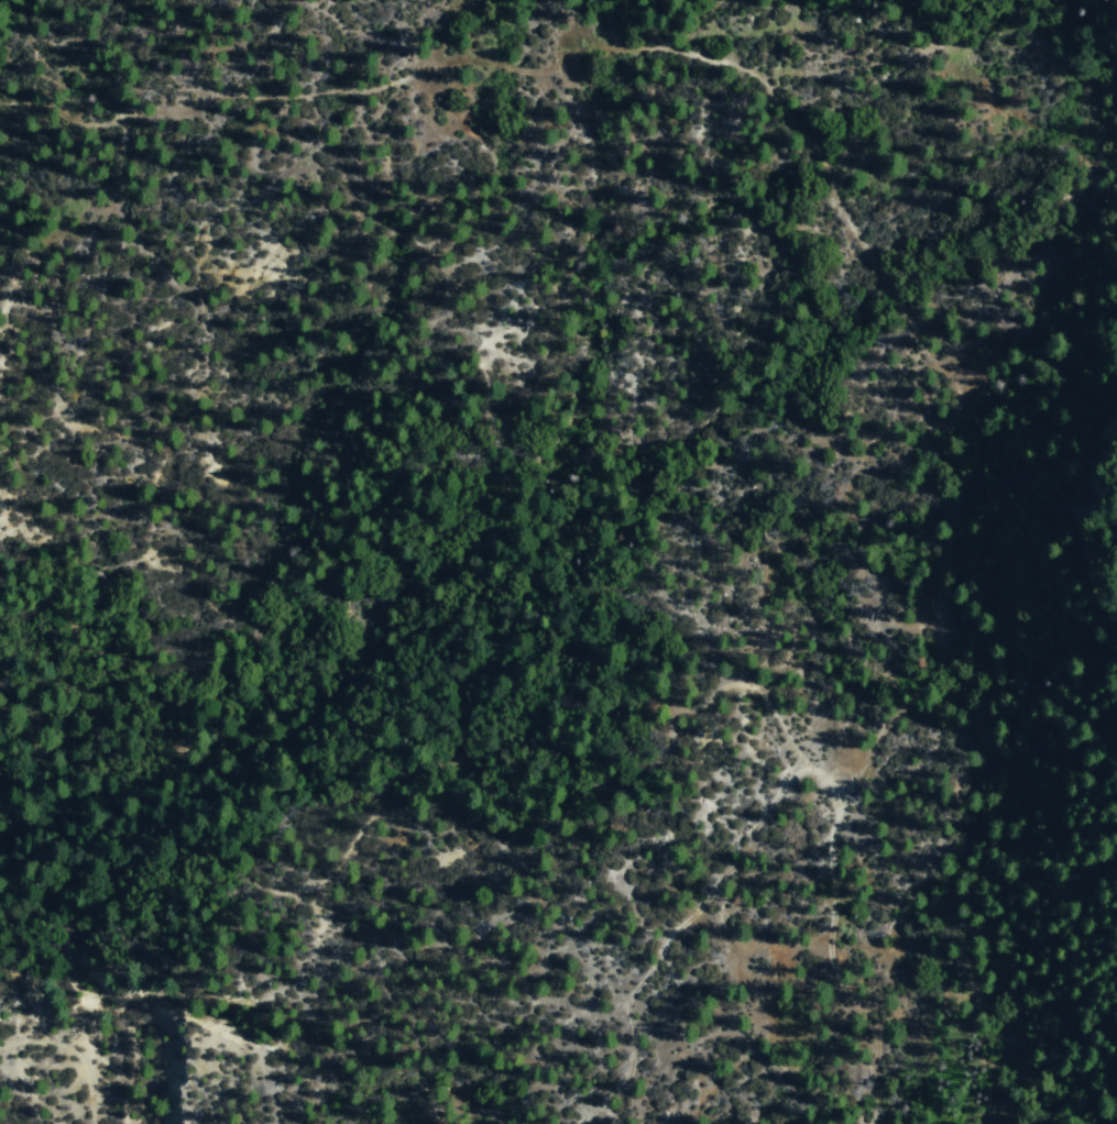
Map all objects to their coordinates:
road: (591, 759)

